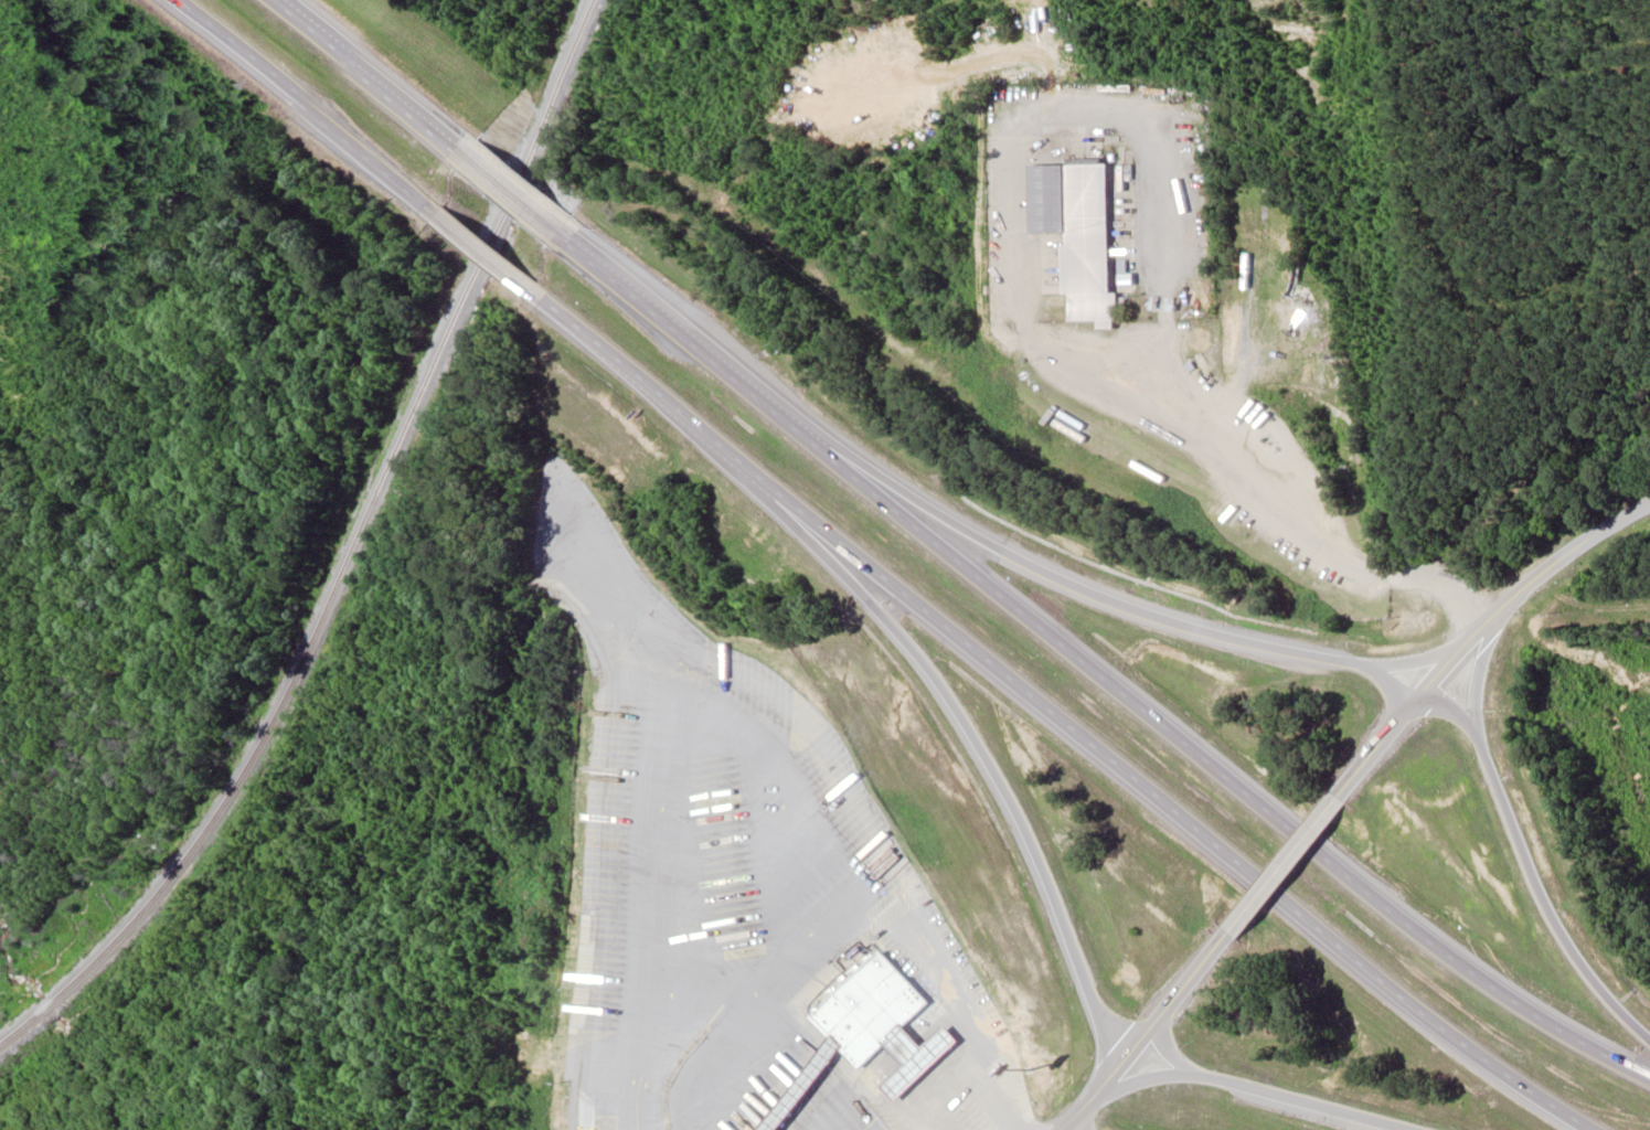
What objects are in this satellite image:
road: (372, 76)
road: (307, 106)
road: (512, 190)
building: (1077, 235)
road: (486, 250)
railway: (348, 555)
road: (1519, 588)
road: (1105, 599)
road: (1093, 670)
road: (1386, 680)
road: (1450, 710)
road: (1057, 717)
road: (1374, 750)
road: (989, 767)
road: (1311, 830)
road: (1513, 834)
road: (1256, 897)
road: (1183, 996)
building: (867, 1009)
road: (1100, 1096)
road: (1268, 1096)

